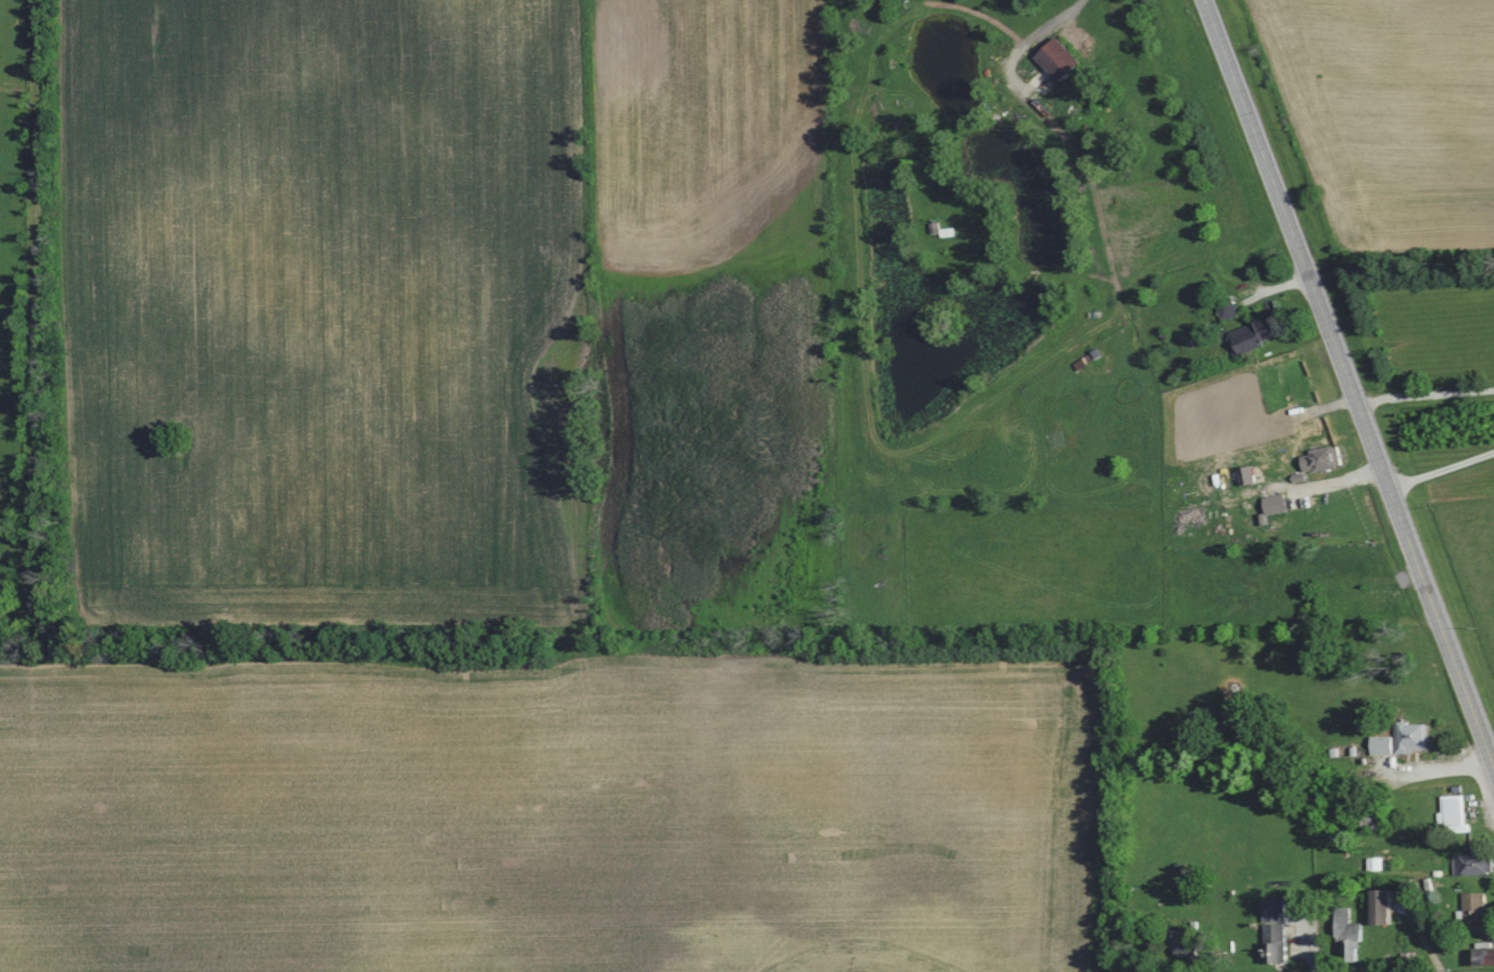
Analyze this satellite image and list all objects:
road: (1025, 50)
building: (1062, 60)
building: (1231, 311)
building: (1256, 336)
road: (1352, 385)
road: (1426, 395)
building: (1325, 460)
road: (1442, 469)
building: (1250, 476)
road: (1332, 481)
building: (1278, 505)
building: (1414, 738)
building: (1385, 745)
road: (1491, 751)
road: (1436, 767)
building: (1457, 814)
building: (1475, 866)
building: (1386, 909)
building: (1475, 911)
building: (1278, 932)
building: (1353, 940)
building: (1184, 945)
building: (1488, 959)

